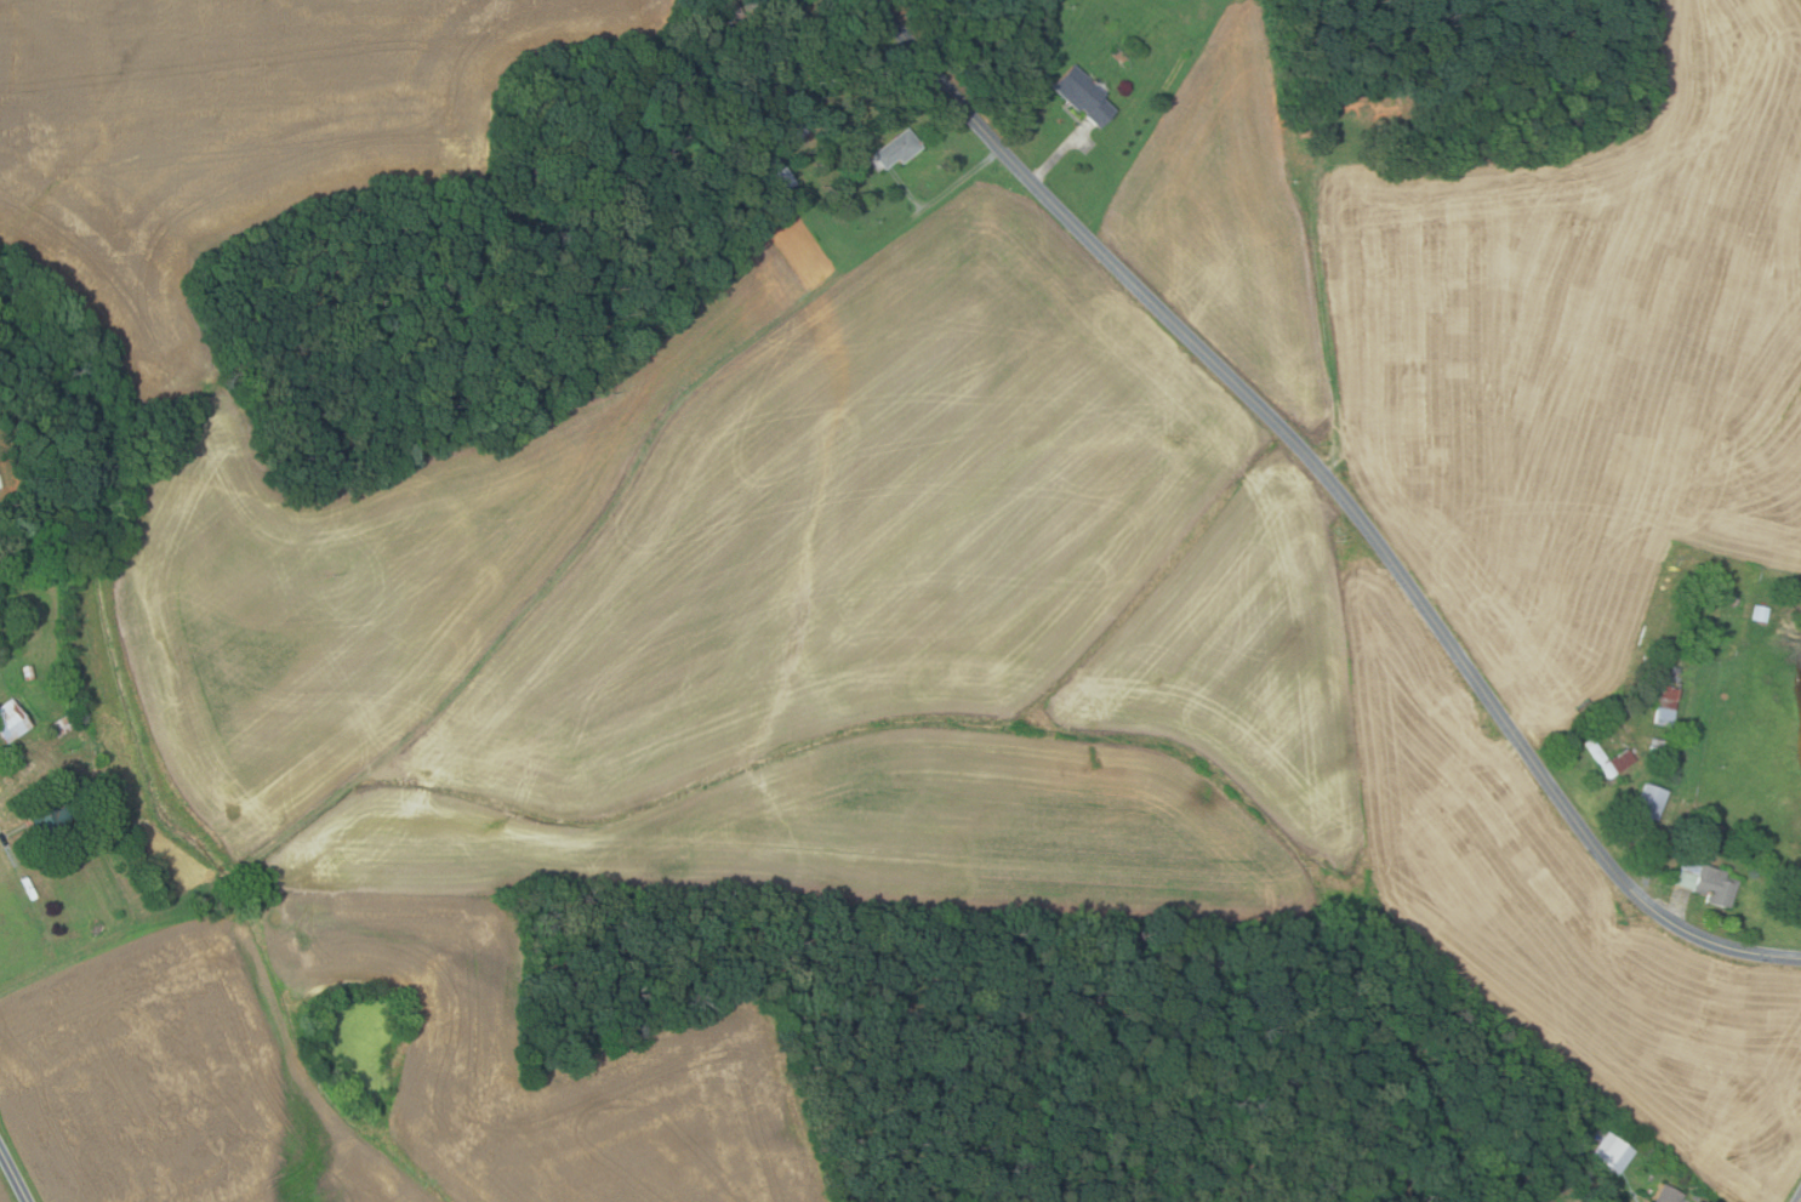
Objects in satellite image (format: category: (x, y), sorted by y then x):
building: (733, 12)
building: (794, 17)
building: (736, 36)
building: (750, 52)
building: (1081, 95)
building: (1373, 108)
building: (760, 120)
crop: (234, 132)
building: (788, 132)
building: (895, 148)
road: (1058, 154)
building: (773, 161)
building: (781, 180)
road: (942, 193)
crop: (1514, 326)
road: (1340, 494)
building: (1760, 614)
crop: (771, 617)
building: (1675, 670)
building: (28, 673)
building: (1664, 695)
building: (1662, 717)
building: (13, 722)
building: (63, 725)
building: (1658, 742)
building: (1657, 751)
building: (1623, 754)
building: (17, 757)
building: (1648, 803)
building: (50, 815)
building: (102, 822)
road: (1649, 870)
building: (1706, 882)
road: (1680, 911)
crop: (1561, 919)
crop: (378, 1070)
building: (1611, 1151)
building: (1563, 1162)
road: (15, 1173)
crop: (5, 1192)
crop: (5, 1192)
building: (1665, 1194)
road: (1688, 1201)
road: (1800, 1201)

